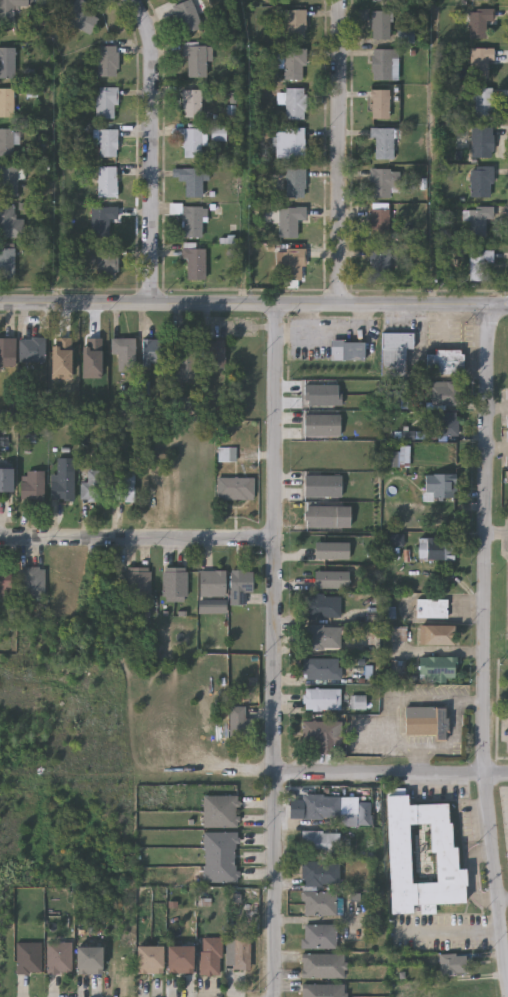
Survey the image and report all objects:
building: (294, 0)
building: (482, 1)
building: (10, 9)
building: (79, 17)
building: (186, 17)
building: (479, 24)
building: (296, 25)
building: (381, 26)
building: (196, 60)
building: (106, 62)
building: (7, 64)
building: (482, 64)
building: (295, 66)
building: (384, 66)
building: (106, 103)
building: (6, 104)
building: (191, 105)
building: (295, 105)
building: (484, 105)
building: (379, 106)
building: (189, 142)
building: (6, 143)
building: (294, 143)
building: (108, 144)
building: (383, 144)
building: (482, 144)
road: (154, 149)
road: (339, 151)
building: (190, 181)
building: (8, 183)
building: (107, 183)
building: (482, 183)
building: (296, 184)
building: (383, 184)
building: (102, 222)
building: (194, 222)
building: (290, 222)
building: (477, 222)
building: (10, 224)
building: (379, 225)
building: (7, 263)
building: (107, 265)
building: (194, 265)
building: (380, 265)
building: (293, 266)
building: (480, 267)
road: (254, 303)
road: (310, 318)
road: (329, 331)
building: (33, 349)
building: (347, 350)
building: (395, 350)
building: (153, 352)
building: (7, 354)
building: (124, 354)
building: (215, 354)
building: (186, 359)
building: (444, 361)
building: (445, 392)
building: (322, 393)
building: (446, 423)
building: (321, 424)
road: (497, 448)
building: (396, 454)
building: (64, 479)
building: (6, 480)
building: (34, 485)
building: (126, 485)
building: (322, 485)
building: (438, 486)
building: (94, 487)
building: (237, 488)
building: (326, 515)
road: (497, 533)
road: (136, 538)
building: (435, 548)
building: (330, 549)
building: (330, 578)
building: (5, 580)
building: (31, 581)
building: (138, 584)
building: (175, 585)
building: (212, 585)
building: (240, 588)
building: (320, 606)
building: (430, 608)
building: (435, 634)
building: (320, 636)
road: (485, 642)
road: (273, 650)
building: (321, 668)
building: (435, 668)
building: (321, 698)
building: (426, 721)
building: (240, 727)
building: (320, 734)
road: (391, 775)
building: (320, 808)
building: (220, 813)
building: (364, 814)
building: (321, 845)
building: (421, 857)
building: (220, 858)
building: (321, 875)
road: (503, 898)
building: (320, 905)
road: (456, 931)
building: (320, 938)
building: (241, 954)
building: (211, 956)
building: (28, 958)
building: (58, 958)
building: (148, 959)
building: (179, 959)
building: (88, 961)
building: (454, 966)
building: (323, 967)
building: (323, 991)

